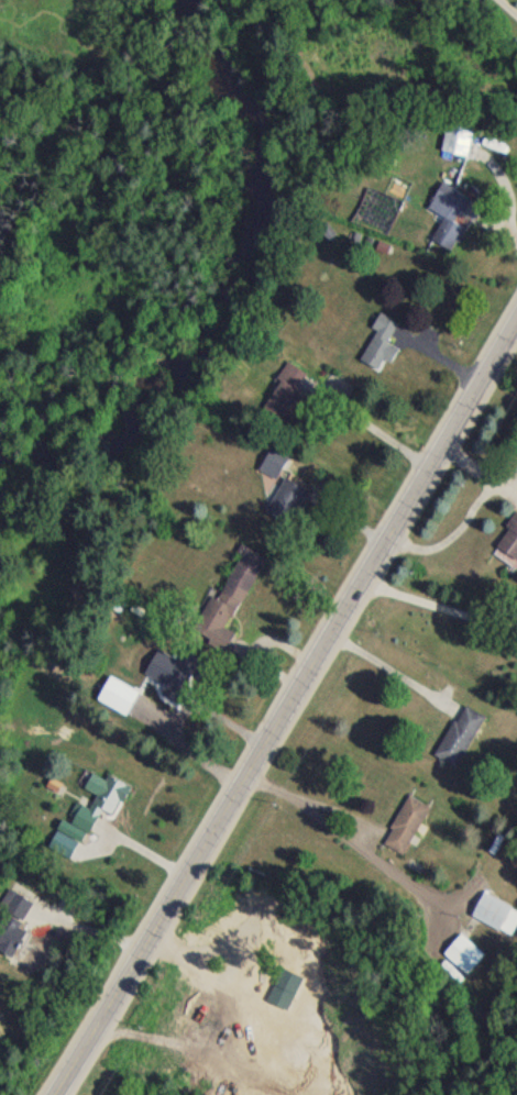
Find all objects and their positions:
road: (506, 9)
building: (454, 143)
building: (446, 221)
road: (493, 231)
building: (377, 350)
building: (340, 395)
building: (283, 400)
road: (369, 431)
building: (272, 467)
building: (283, 508)
road: (466, 520)
building: (509, 544)
building: (223, 609)
road: (437, 611)
road: (387, 674)
building: (178, 684)
road: (285, 707)
building: (457, 741)
building: (94, 806)
building: (403, 830)
road: (349, 843)
building: (58, 854)
building: (493, 919)
building: (10, 925)
road: (86, 928)
building: (461, 960)

